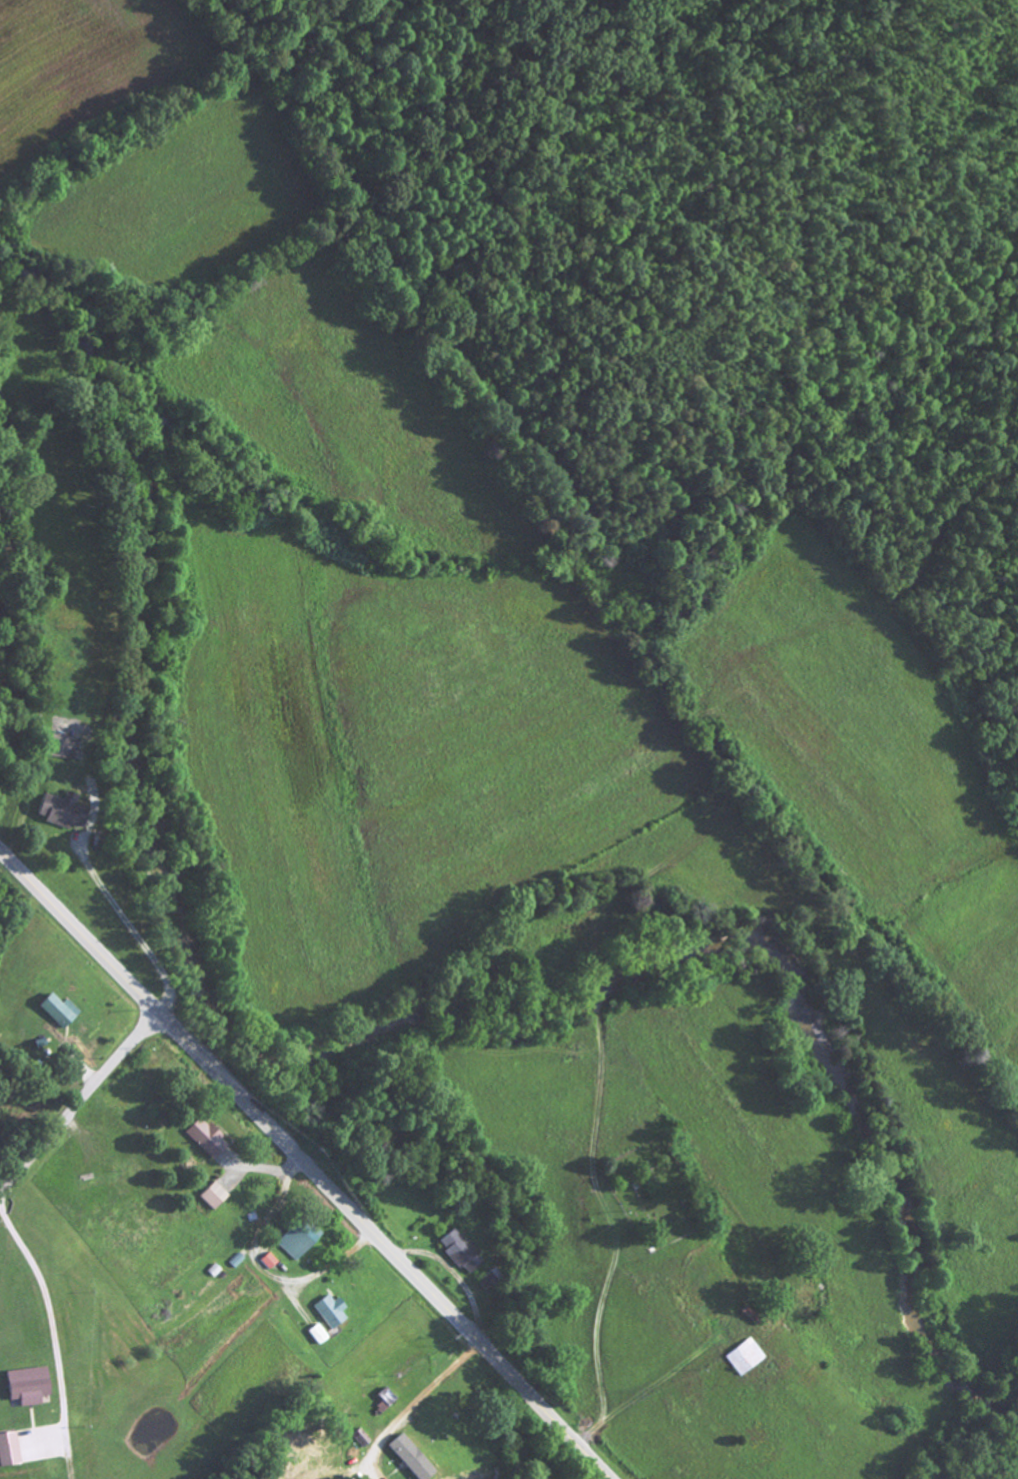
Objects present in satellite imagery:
building: (71, 749)
building: (62, 1013)
road: (80, 1105)
building: (209, 1141)
road: (303, 1165)
building: (216, 1198)
building: (301, 1243)
building: (460, 1253)
building: (271, 1263)
building: (490, 1281)
building: (333, 1313)
building: (745, 1360)
building: (33, 1387)
building: (11, 1451)
building: (413, 1459)

